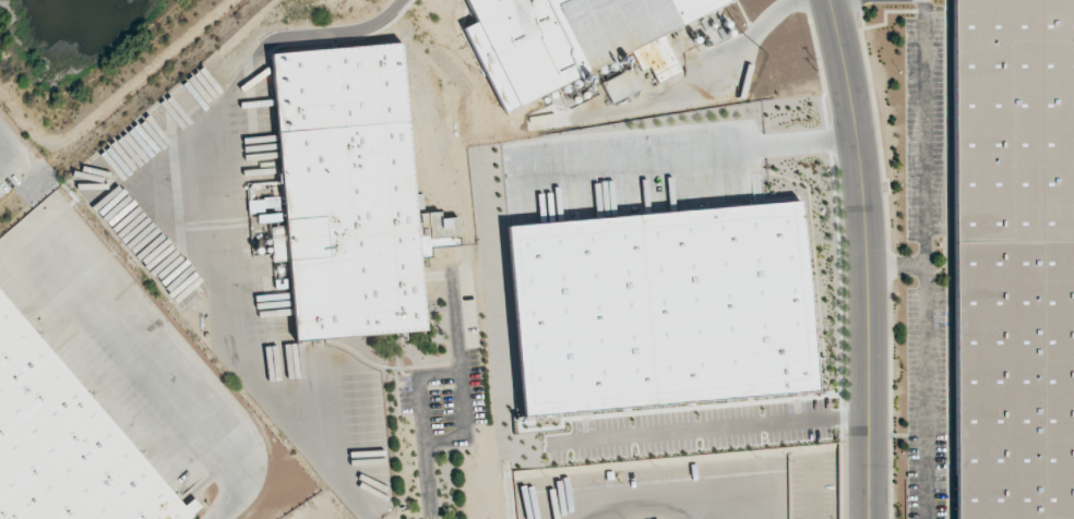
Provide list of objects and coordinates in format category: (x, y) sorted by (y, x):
road: (835, 0)
building: (578, 43)
building: (613, 67)
building: (621, 85)
building: (339, 88)
building: (1013, 121)
road: (3, 140)
road: (695, 149)
building: (347, 179)
road: (13, 243)
road: (867, 257)
road: (924, 259)
road: (896, 267)
building: (356, 283)
building: (658, 310)
road: (230, 339)
road: (155, 372)
road: (461, 372)
road: (439, 376)
building: (1013, 381)
road: (724, 425)
building: (65, 444)
road: (423, 448)

